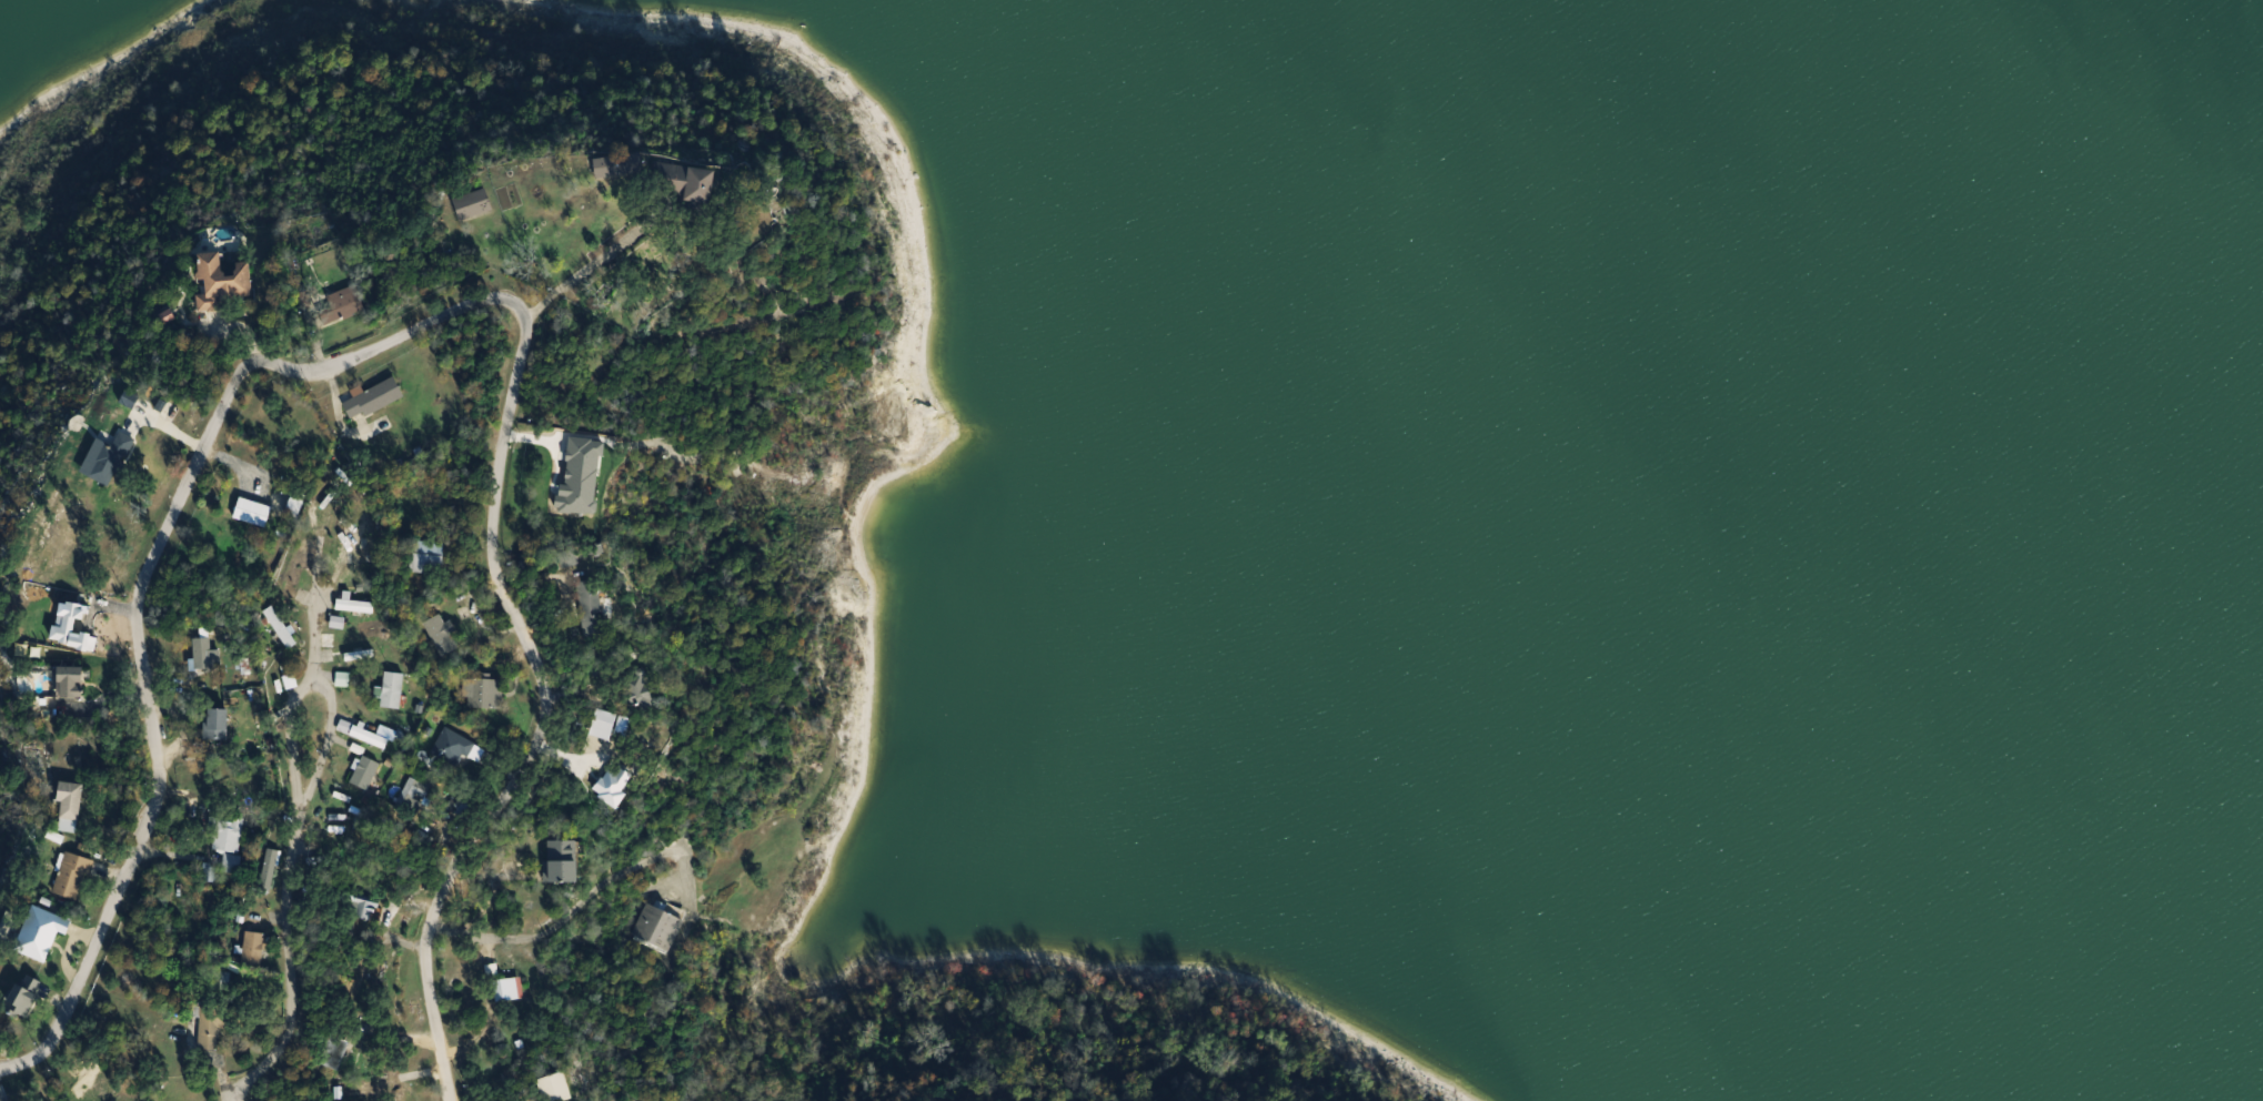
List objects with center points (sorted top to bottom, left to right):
building: (661, 176)
building: (472, 203)
road: (592, 264)
building: (221, 282)
building: (345, 305)
road: (411, 342)
building: (372, 398)
building: (109, 458)
building: (295, 504)
building: (252, 512)
building: (356, 545)
building: (426, 557)
building: (298, 577)
building: (591, 598)
building: (353, 606)
building: (280, 627)
building: (443, 635)
building: (207, 657)
building: (342, 679)
building: (70, 683)
building: (393, 689)
building: (484, 691)
building: (217, 724)
building: (370, 737)
building: (453, 747)
building: (366, 771)
building: (414, 795)
building: (71, 800)
building: (335, 825)
building: (230, 841)
road: (290, 857)
building: (563, 860)
building: (72, 876)
building: (361, 908)
building: (658, 926)
building: (41, 932)
building: (254, 948)
building: (506, 989)
building: (23, 996)
building: (211, 1027)
building: (335, 1050)
building: (556, 1087)

